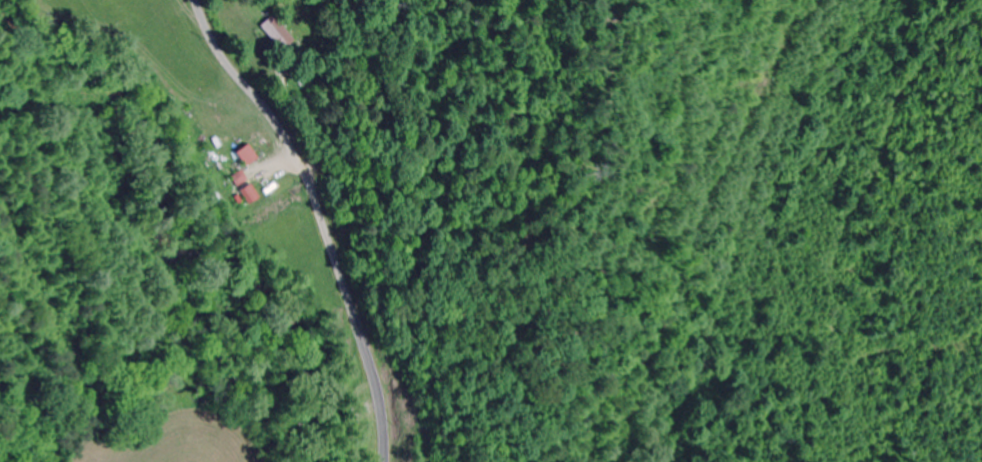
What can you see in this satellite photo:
building: (243, 155)
road: (324, 216)

